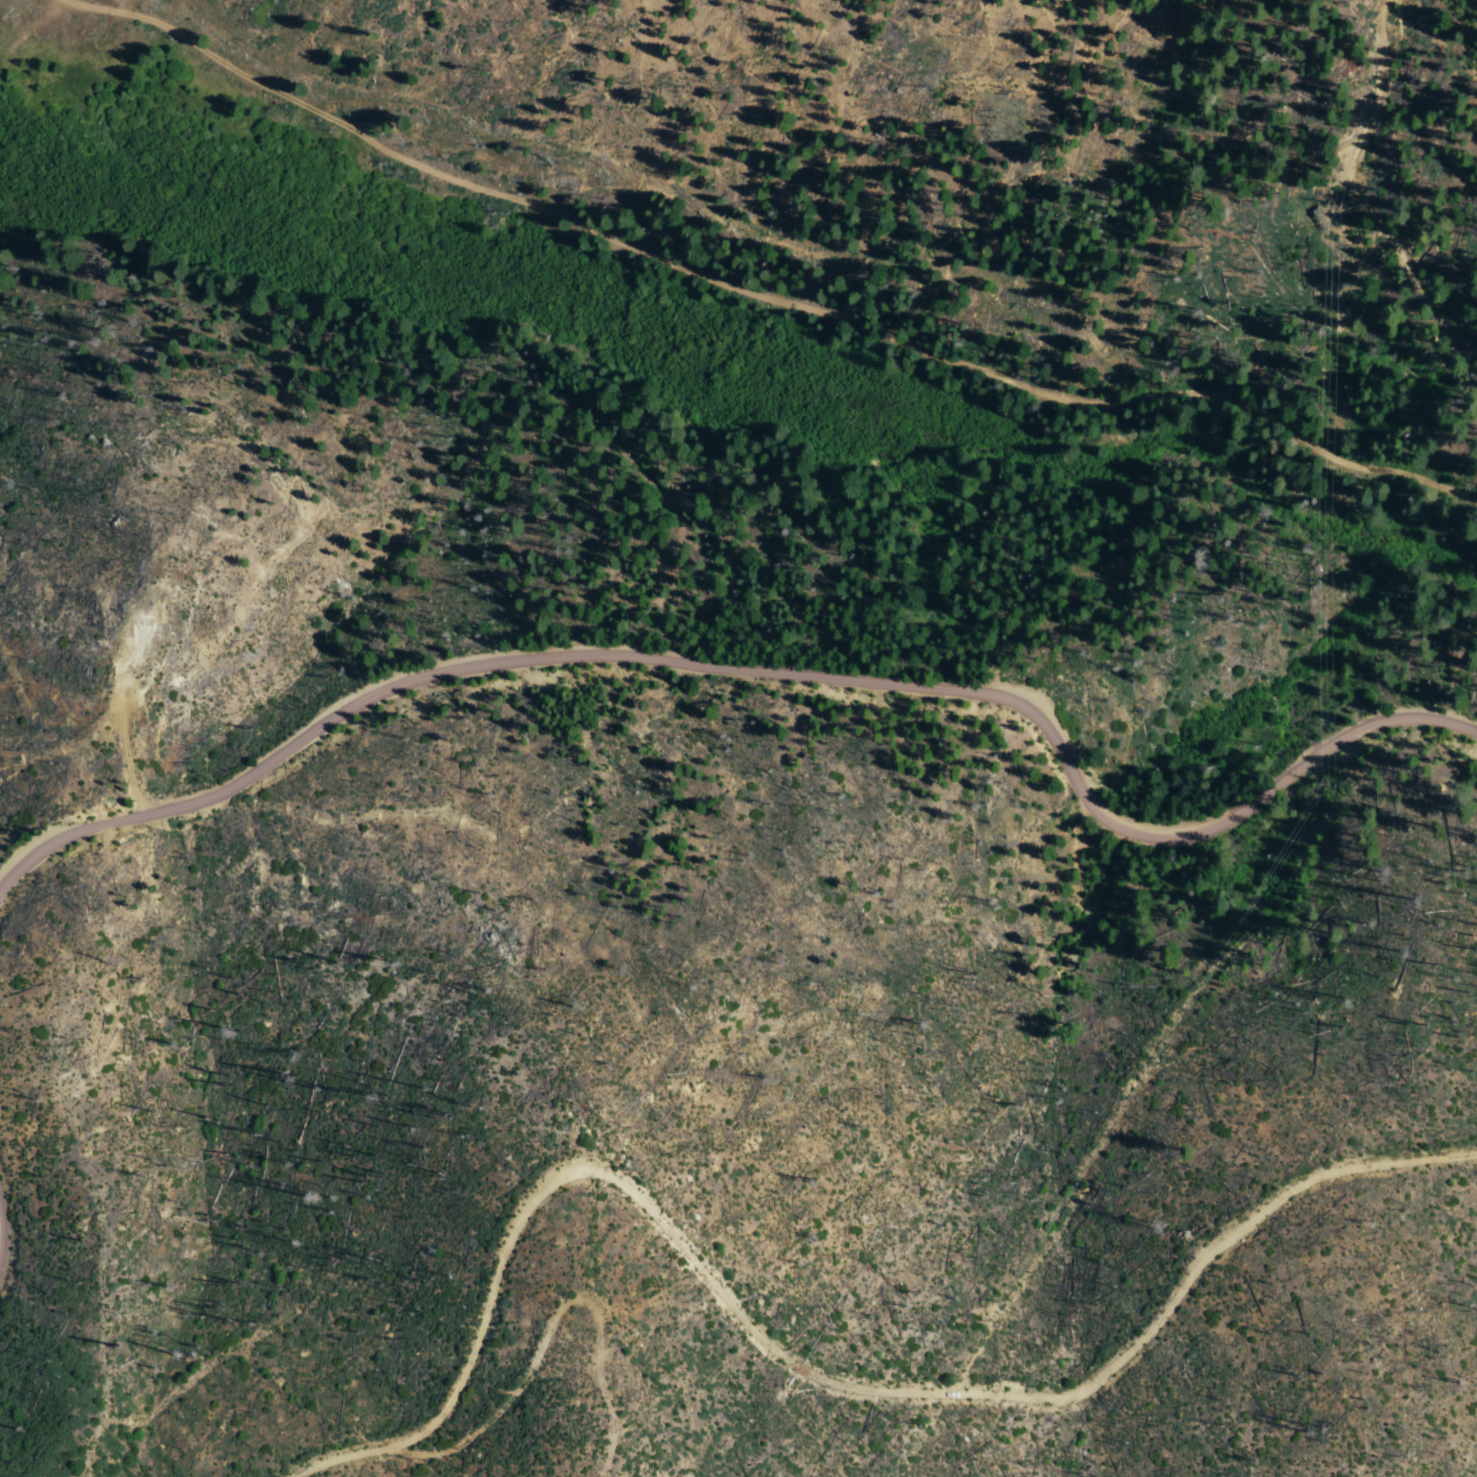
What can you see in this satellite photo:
road: (756, 286)
road: (759, 671)
road: (126, 759)
road: (7, 1248)
road: (804, 1370)

